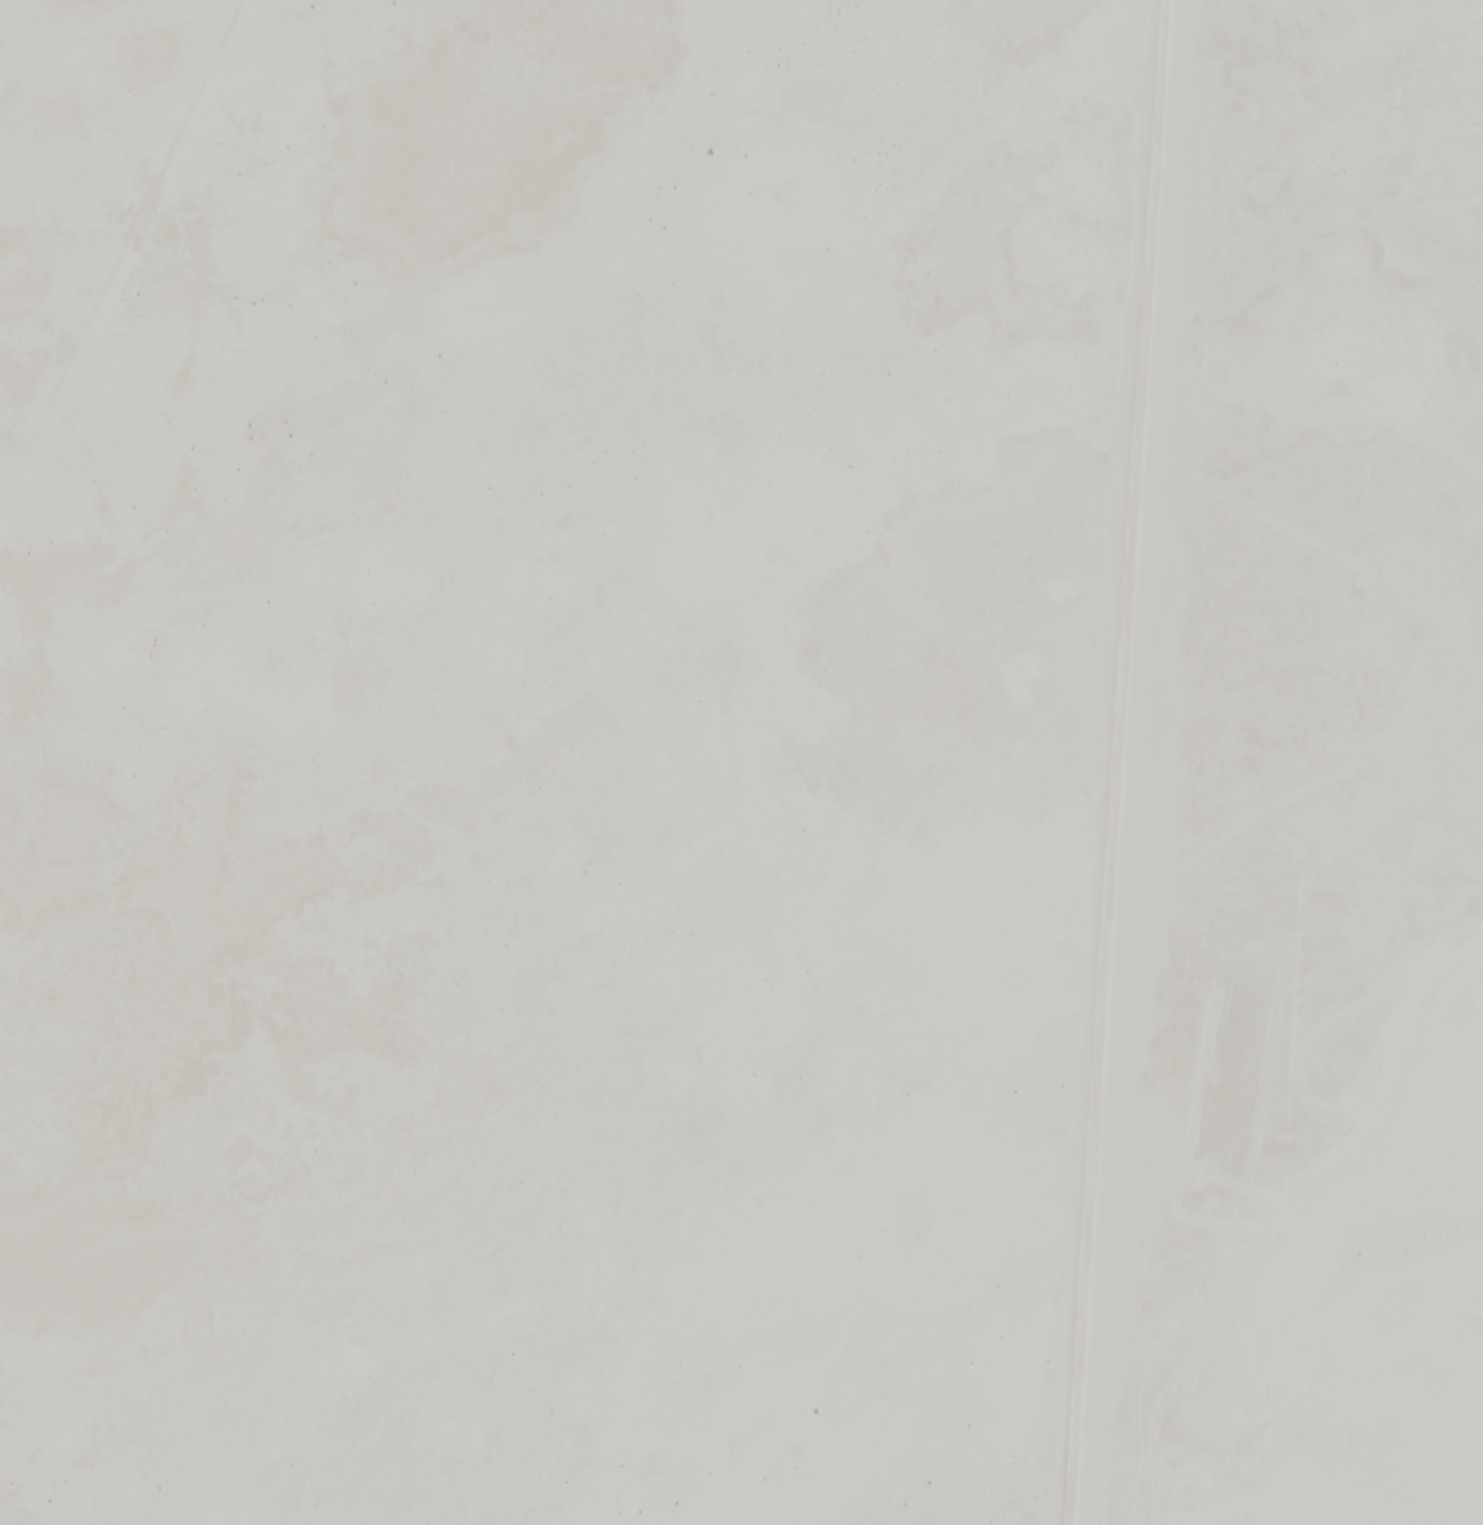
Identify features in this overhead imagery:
building: (106, 127)
building: (250, 250)
building: (334, 461)
building: (229, 575)
road: (1080, 762)

